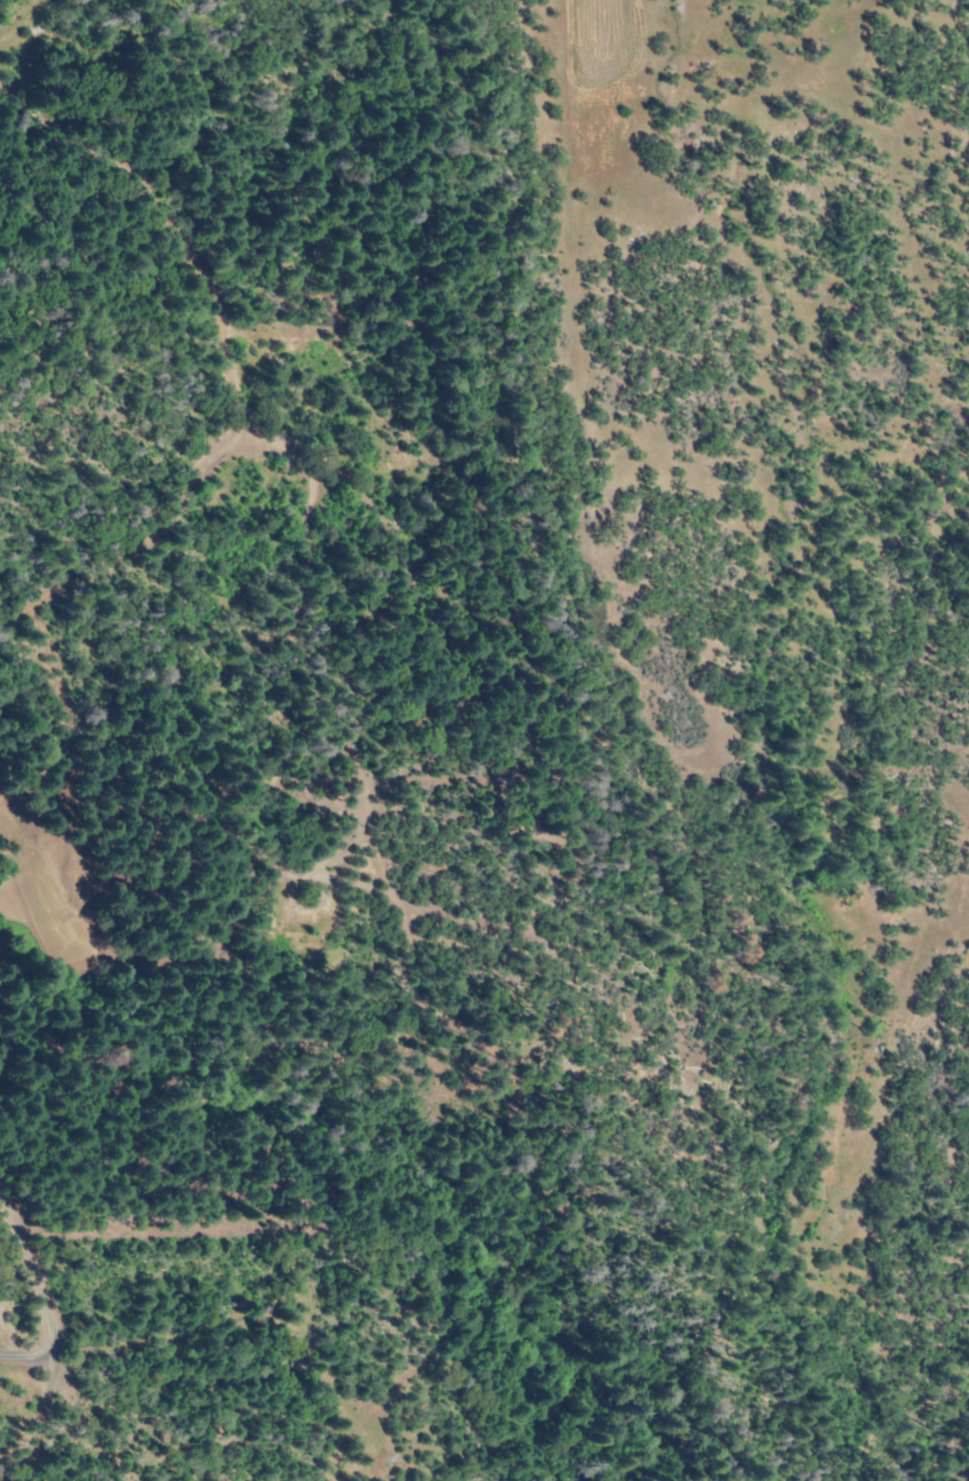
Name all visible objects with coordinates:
road: (39, 1337)

